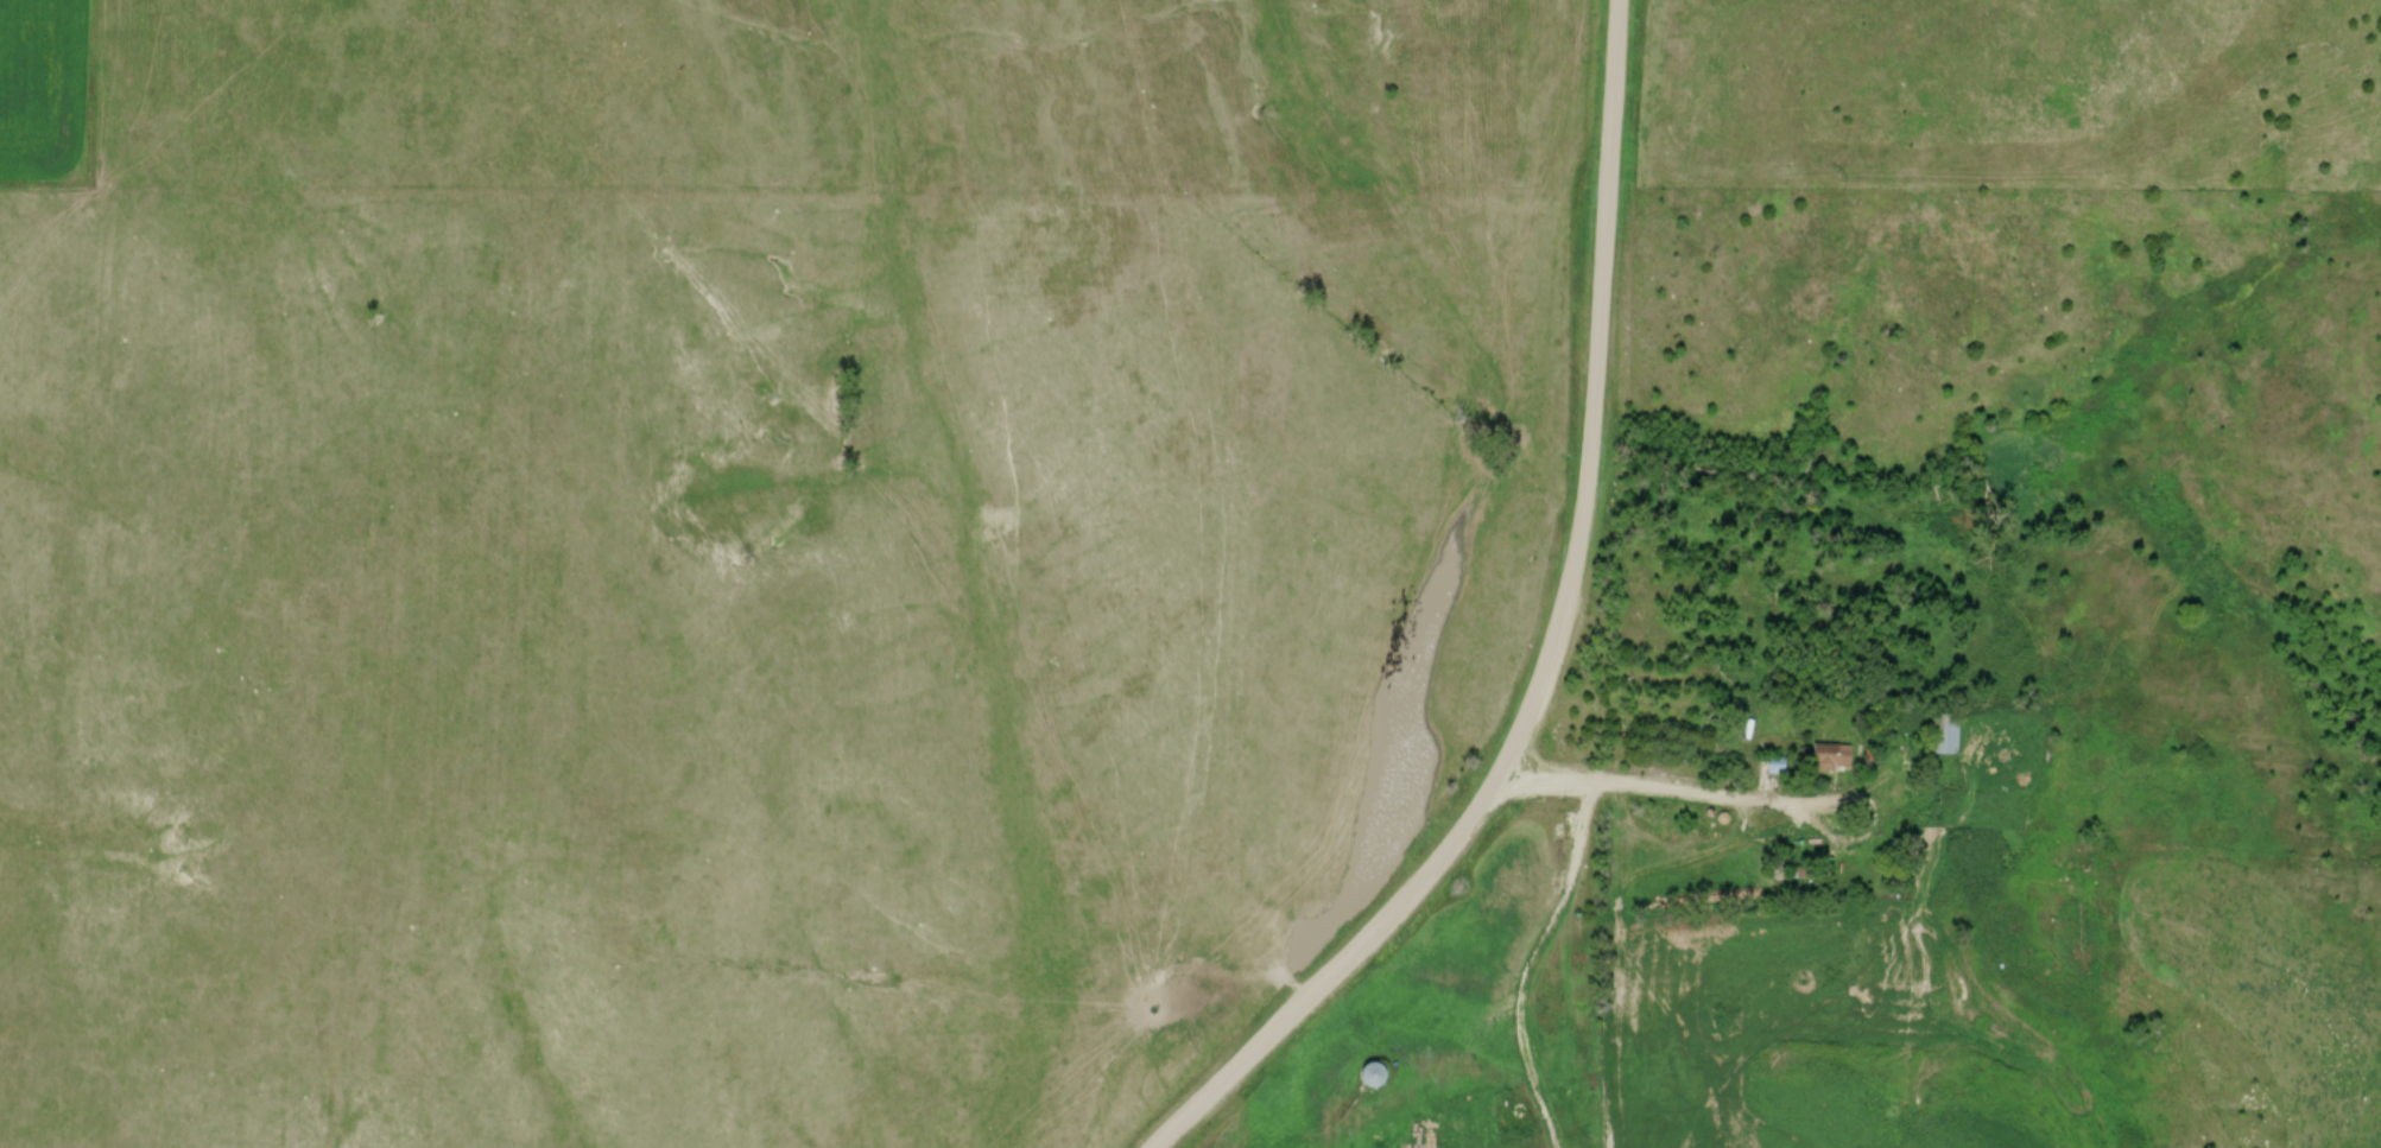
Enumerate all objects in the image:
road: (1552, 645)
building: (1948, 737)
building: (1829, 760)
road: (1666, 788)
building: (1989, 841)
building: (1373, 1079)

